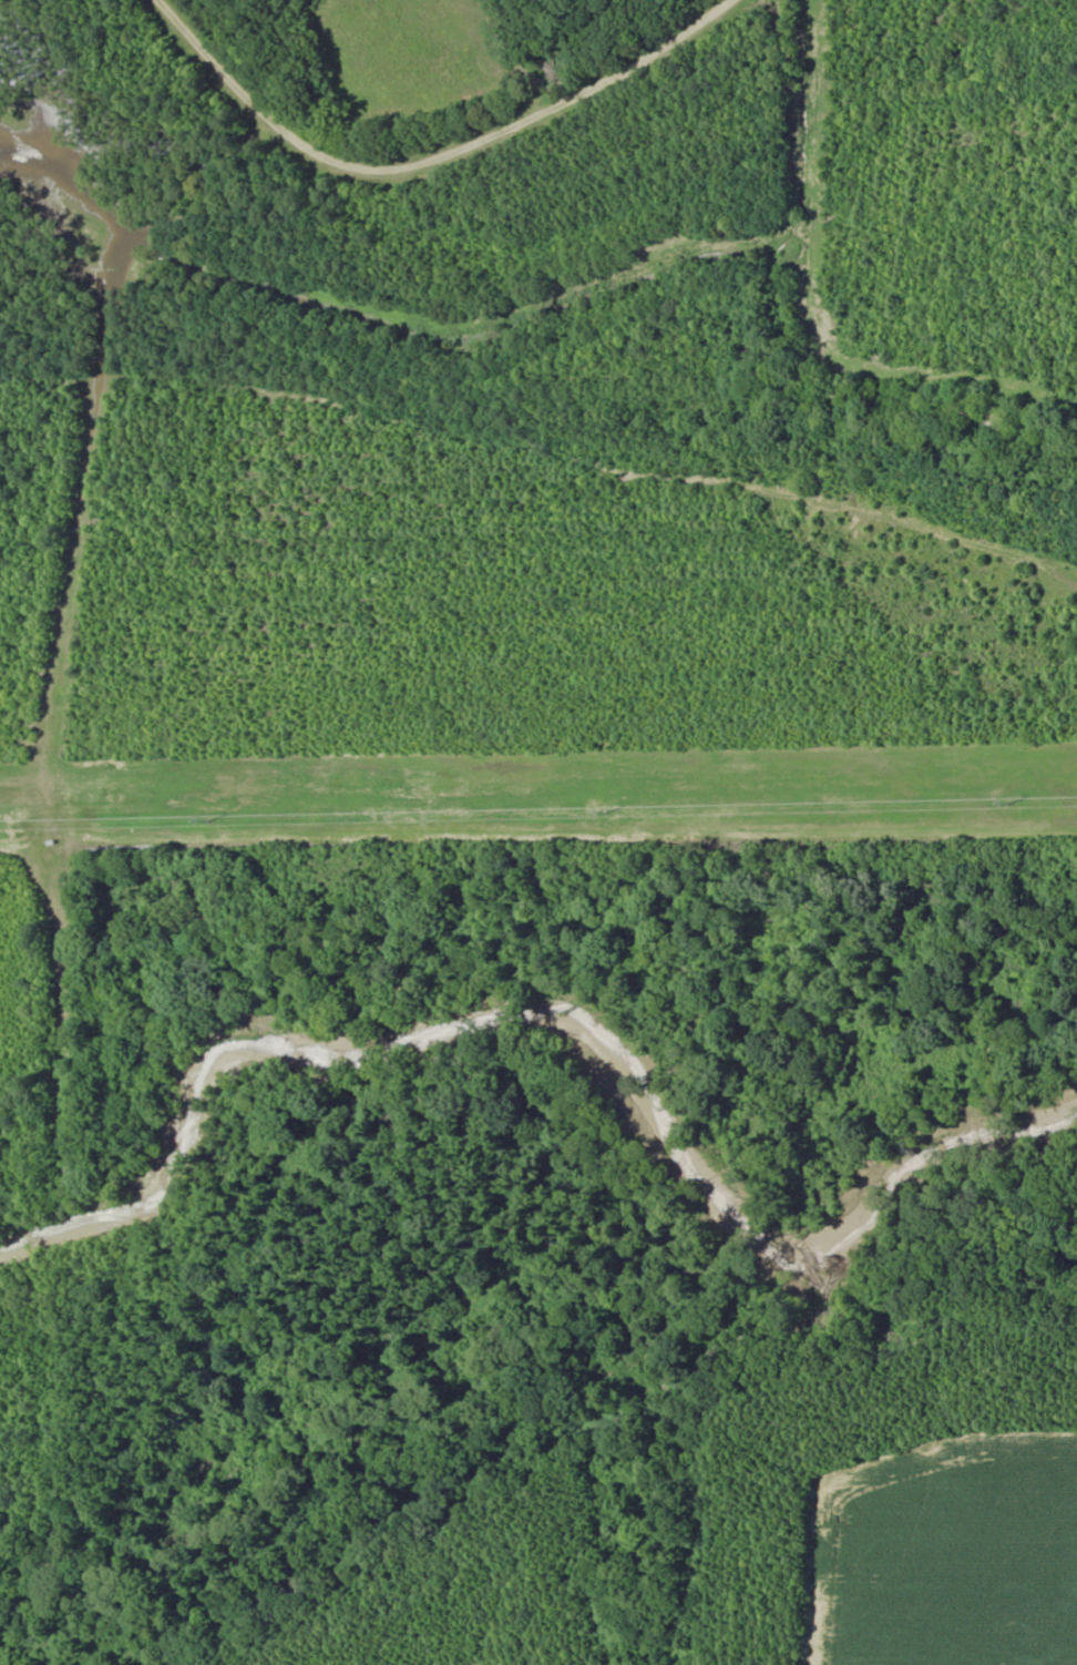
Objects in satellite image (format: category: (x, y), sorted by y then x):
road: (441, 162)
power tower: (1016, 800)
power tower: (613, 809)
power tower: (212, 818)

